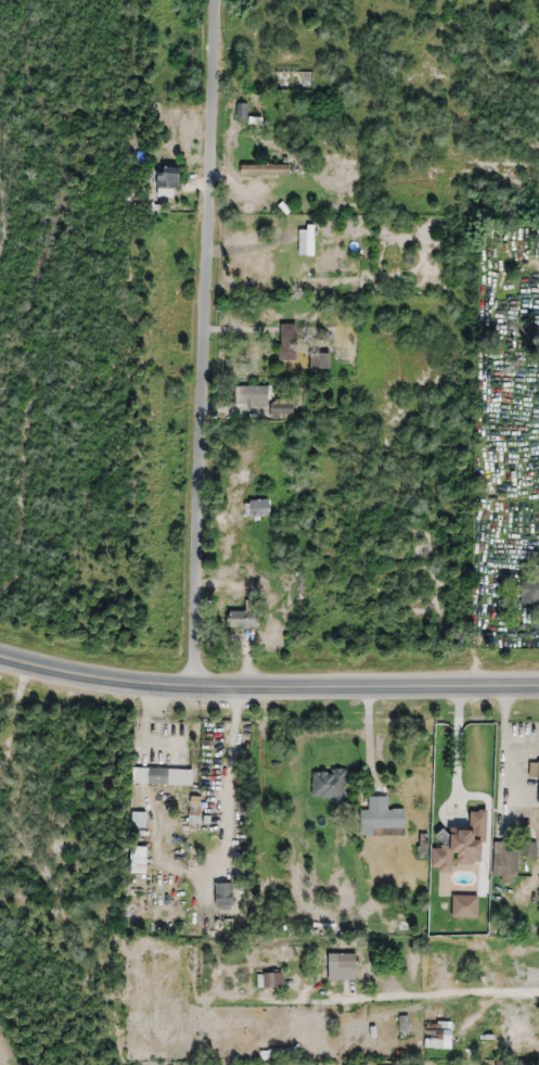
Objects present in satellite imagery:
building: (245, 111)
building: (264, 170)
building: (167, 178)
building: (286, 342)
road: (202, 343)
building: (319, 362)
building: (251, 396)
building: (282, 409)
building: (257, 508)
building: (529, 592)
building: (240, 620)
road: (268, 688)
building: (534, 771)
building: (162, 776)
building: (329, 784)
building: (538, 799)
building: (381, 819)
building: (138, 820)
building: (460, 845)
building: (423, 846)
building: (509, 859)
building: (138, 860)
building: (223, 893)
building: (463, 906)
building: (342, 967)
building: (270, 980)
building: (442, 981)
building: (403, 1027)
building: (437, 1035)
building: (512, 1063)

